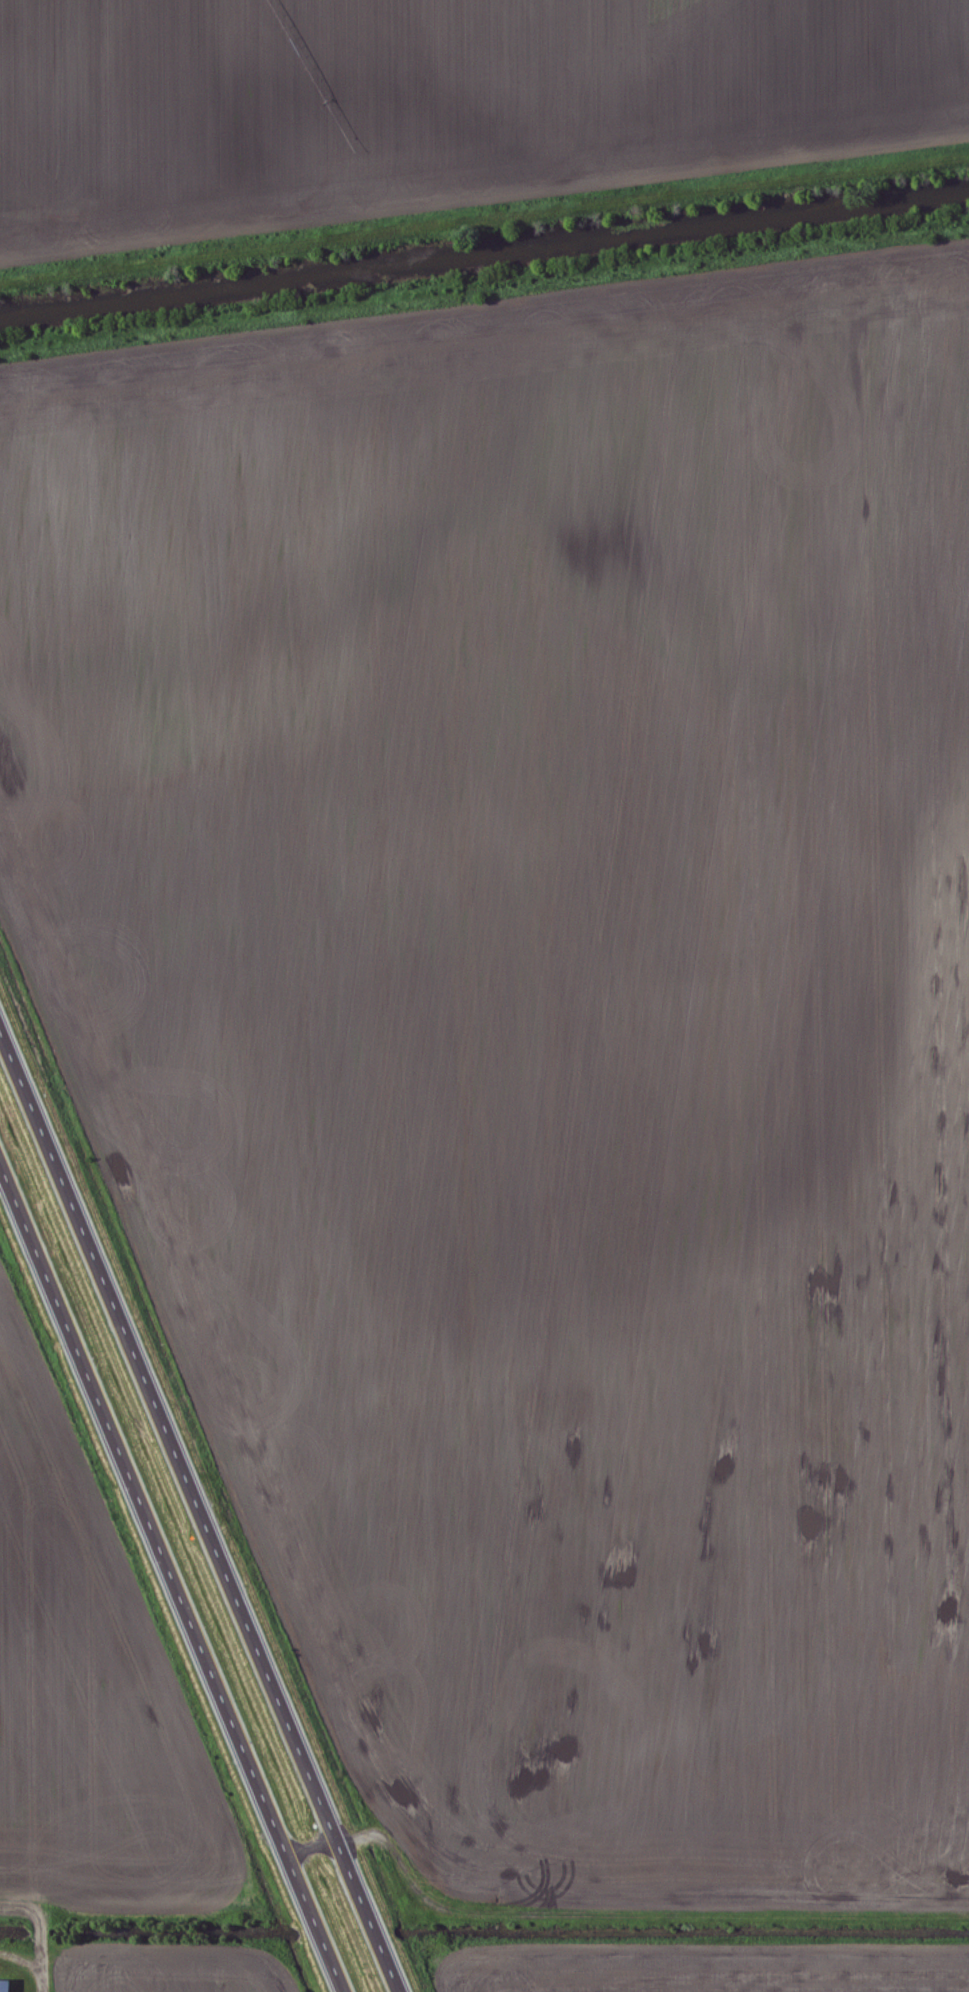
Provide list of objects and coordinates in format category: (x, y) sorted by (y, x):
road: (205, 1503)
road: (172, 1578)
road: (39, 1933)
building: (9, 1986)

